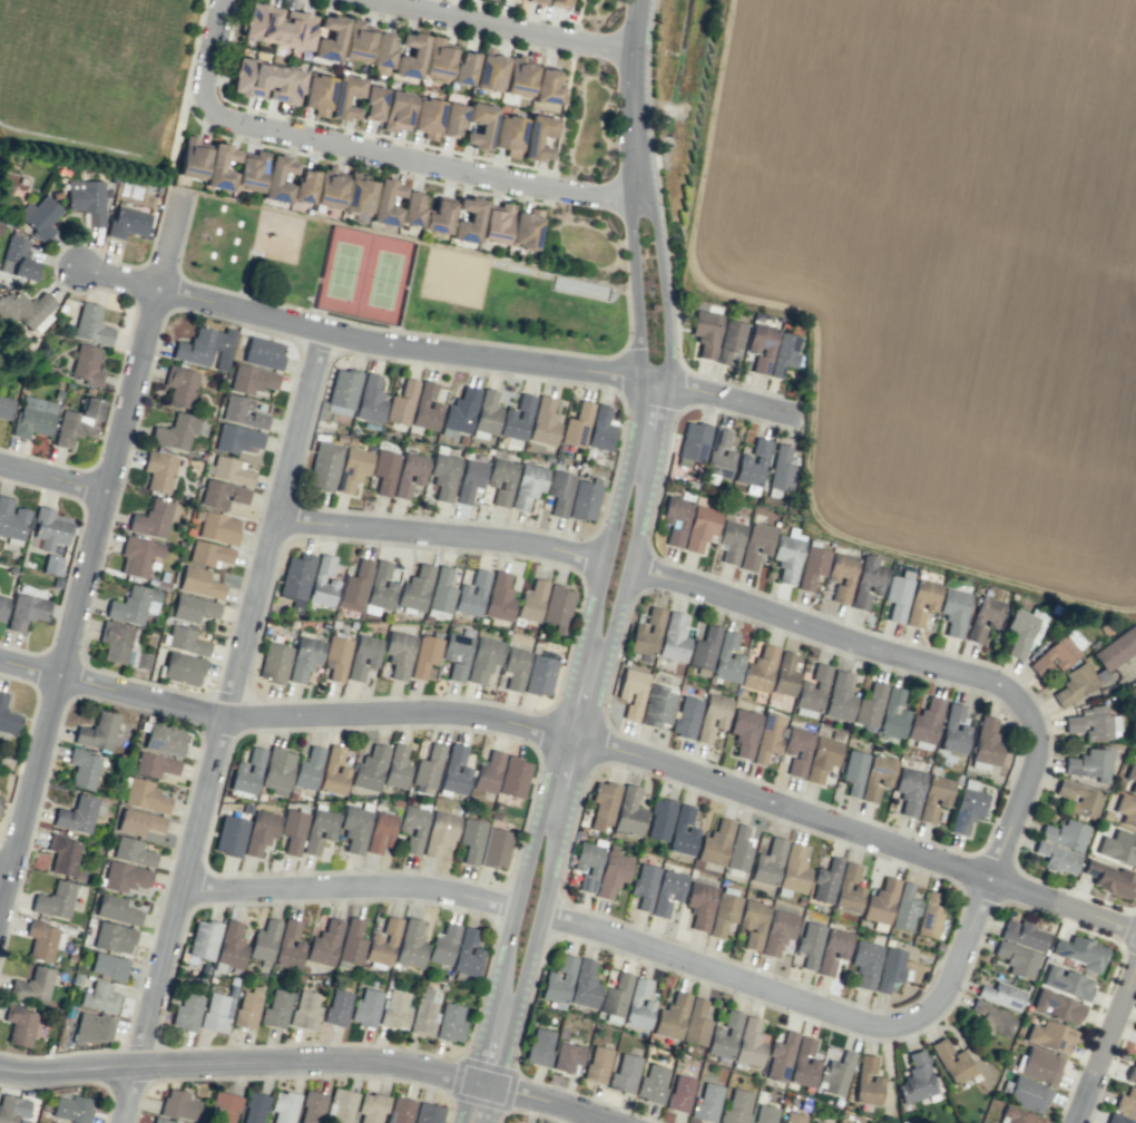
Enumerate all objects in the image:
building: (537, 1)
building: (557, 3)
building: (277, 26)
road: (508, 27)
building: (330, 38)
building: (358, 41)
building: (382, 50)
road: (208, 53)
building: (410, 56)
building: (438, 59)
building: (464, 68)
building: (490, 69)
park: (99, 72)
building: (518, 77)
building: (266, 81)
building: (546, 87)
building: (317, 94)
building: (341, 96)
road: (634, 99)
building: (372, 102)
building: (396, 110)
building: (427, 117)
building: (452, 119)
building: (479, 125)
building: (508, 135)
building: (538, 137)
building: (192, 158)
road: (419, 165)
building: (219, 167)
building: (249, 170)
building: (276, 178)
building: (304, 185)
building: (329, 188)
building: (358, 196)
building: (86, 199)
building: (385, 202)
building: (411, 208)
building: (39, 216)
building: (438, 217)
building: (467, 219)
building: (127, 222)
building: (494, 224)
building: (525, 228)
road: (168, 238)
building: (17, 257)
park: (364, 273)
crop: (943, 273)
crop: (943, 273)
road: (119, 279)
park: (454, 279)
park: (403, 281)
road: (633, 289)
road: (665, 290)
building: (22, 307)
building: (90, 324)
building: (705, 333)
building: (729, 341)
building: (205, 346)
road: (394, 346)
building: (761, 346)
building: (263, 352)
building: (783, 354)
building: (86, 365)
building: (252, 379)
building: (179, 387)
building: (342, 391)
road: (713, 397)
building: (370, 399)
building: (401, 403)
building: (425, 407)
building: (6, 408)
building: (461, 410)
building: (243, 412)
building: (486, 414)
building: (33, 417)
building: (517, 418)
building: (78, 422)
building: (543, 422)
building: (576, 424)
building: (600, 428)
building: (175, 432)
building: (236, 439)
building: (692, 443)
building: (718, 455)
building: (752, 463)
building: (324, 466)
building: (781, 468)
building: (352, 469)
building: (228, 470)
building: (158, 471)
building: (384, 471)
building: (409, 473)
building: (443, 476)
road: (51, 480)
building: (469, 480)
building: (501, 480)
building: (528, 486)
building: (559, 491)
building: (222, 495)
building: (584, 500)
building: (154, 518)
building: (11, 519)
building: (675, 519)
building: (216, 526)
building: (701, 527)
building: (50, 528)
building: (731, 540)
building: (755, 545)
building: (208, 554)
building: (51, 564)
building: (812, 566)
building: (841, 576)
road: (678, 578)
building: (296, 579)
building: (866, 582)
building: (199, 583)
building: (322, 583)
building: (354, 586)
building: (380, 588)
building: (415, 588)
building: (441, 590)
road: (80, 592)
building: (471, 594)
building: (898, 595)
building: (499, 597)
building: (531, 600)
building: (921, 600)
building: (134, 604)
building: (2, 606)
building: (193, 608)
building: (557, 608)
building: (26, 611)
building: (953, 611)
building: (983, 617)
building: (1024, 629)
building: (646, 633)
building: (673, 637)
building: (115, 641)
building: (186, 641)
building: (703, 648)
building: (1059, 652)
building: (399, 654)
building: (336, 655)
building: (363, 655)
building: (425, 655)
building: (457, 655)
building: (304, 658)
building: (483, 658)
building: (726, 658)
building: (141, 661)
building: (274, 663)
building: (1106, 664)
building: (183, 667)
building: (515, 667)
building: (758, 670)
building: (539, 675)
building: (784, 675)
building: (631, 692)
building: (811, 692)
building: (839, 696)
building: (657, 705)
building: (869, 706)
building: (892, 714)
building: (685, 716)
building: (712, 716)
building: (8, 717)
building: (926, 721)
building: (1094, 723)
road: (218, 729)
building: (953, 730)
building: (744, 731)
building: (97, 732)
road: (560, 732)
building: (767, 736)
building: (165, 739)
road: (579, 741)
building: (987, 742)
building: (796, 749)
building: (1135, 754)
road: (582, 755)
building: (822, 758)
building: (1090, 763)
building: (154, 764)
building: (82, 768)
building: (369, 768)
building: (396, 768)
building: (428, 768)
building: (307, 769)
building: (277, 770)
building: (454, 770)
building: (247, 771)
building: (853, 771)
building: (333, 772)
building: (488, 772)
building: (513, 777)
building: (877, 777)
building: (1132, 777)
building: (909, 790)
building: (144, 795)
building: (934, 797)
building: (0, 799)
building: (1080, 799)
building: (603, 804)
building: (967, 807)
road: (1012, 809)
building: (1126, 811)
building: (628, 812)
building: (78, 813)
building: (659, 819)
building: (138, 822)
building: (354, 828)
building: (292, 830)
building: (319, 830)
building: (411, 830)
building: (259, 831)
building: (380, 831)
building: (439, 832)
building: (682, 832)
building: (1065, 834)
building: (229, 836)
building: (471, 840)
building: (715, 842)
building: (496, 848)
building: (1118, 848)
building: (738, 849)
building: (133, 852)
building: (62, 853)
building: (1056, 858)
building: (767, 862)
building: (587, 865)
building: (793, 869)
building: (613, 871)
road: (2, 873)
building: (124, 877)
building: (1108, 878)
building: (825, 881)
building: (644, 886)
road: (345, 890)
building: (667, 890)
building: (848, 890)
building: (55, 900)
building: (881, 901)
building: (699, 904)
building: (904, 908)
building: (116, 909)
building: (723, 914)
building: (929, 916)
building: (753, 922)
building: (777, 931)
building: (1024, 935)
building: (114, 937)
building: (41, 939)
building: (204, 939)
building: (352, 941)
building: (264, 943)
building: (324, 943)
building: (383, 943)
building: (411, 944)
building: (809, 944)
building: (231, 945)
building: (443, 945)
building: (288, 946)
building: (832, 950)
building: (1078, 951)
building: (467, 954)
building: (1017, 959)
building: (865, 963)
building: (108, 966)
building: (890, 968)
building: (558, 980)
building: (1066, 982)
building: (584, 984)
building: (32, 986)
building: (616, 995)
building: (1000, 995)
building: (100, 997)
road: (805, 999)
building: (638, 1005)
building: (1057, 1006)
building: (247, 1007)
building: (337, 1007)
building: (366, 1007)
building: (276, 1008)
building: (395, 1009)
building: (305, 1010)
building: (423, 1010)
building: (186, 1012)
building: (215, 1013)
building: (672, 1016)
building: (990, 1018)
building: (450, 1023)
building: (695, 1023)
building: (19, 1025)
building: (94, 1027)
building: (724, 1036)
building: (1050, 1036)
building: (750, 1043)
road: (1104, 1043)
building: (539, 1047)
building: (567, 1056)
building: (780, 1057)
road: (235, 1063)
building: (952, 1063)
building: (597, 1064)
building: (803, 1064)
building: (1039, 1065)
building: (624, 1073)
building: (1132, 1073)
building: (835, 1074)
building: (915, 1078)
building: (866, 1082)
building: (652, 1083)
building: (679, 1093)
building: (1027, 1094)
road: (541, 1098)
road: (462, 1102)
building: (1126, 1102)
building: (706, 1103)
building: (178, 1105)
building: (224, 1106)
building: (283, 1106)
building: (340, 1106)
building: (736, 1106)
building: (12, 1107)
building: (254, 1107)
building: (312, 1107)
building: (371, 1107)
building: (71, 1109)
building: (400, 1110)
road: (505, 1112)
building: (428, 1113)
road: (540, 1114)
building: (764, 1114)
building: (1015, 1116)
building: (793, 1117)
building: (1117, 1119)
building: (160, 1121)
building: (50, 1122)
building: (816, 1122)

